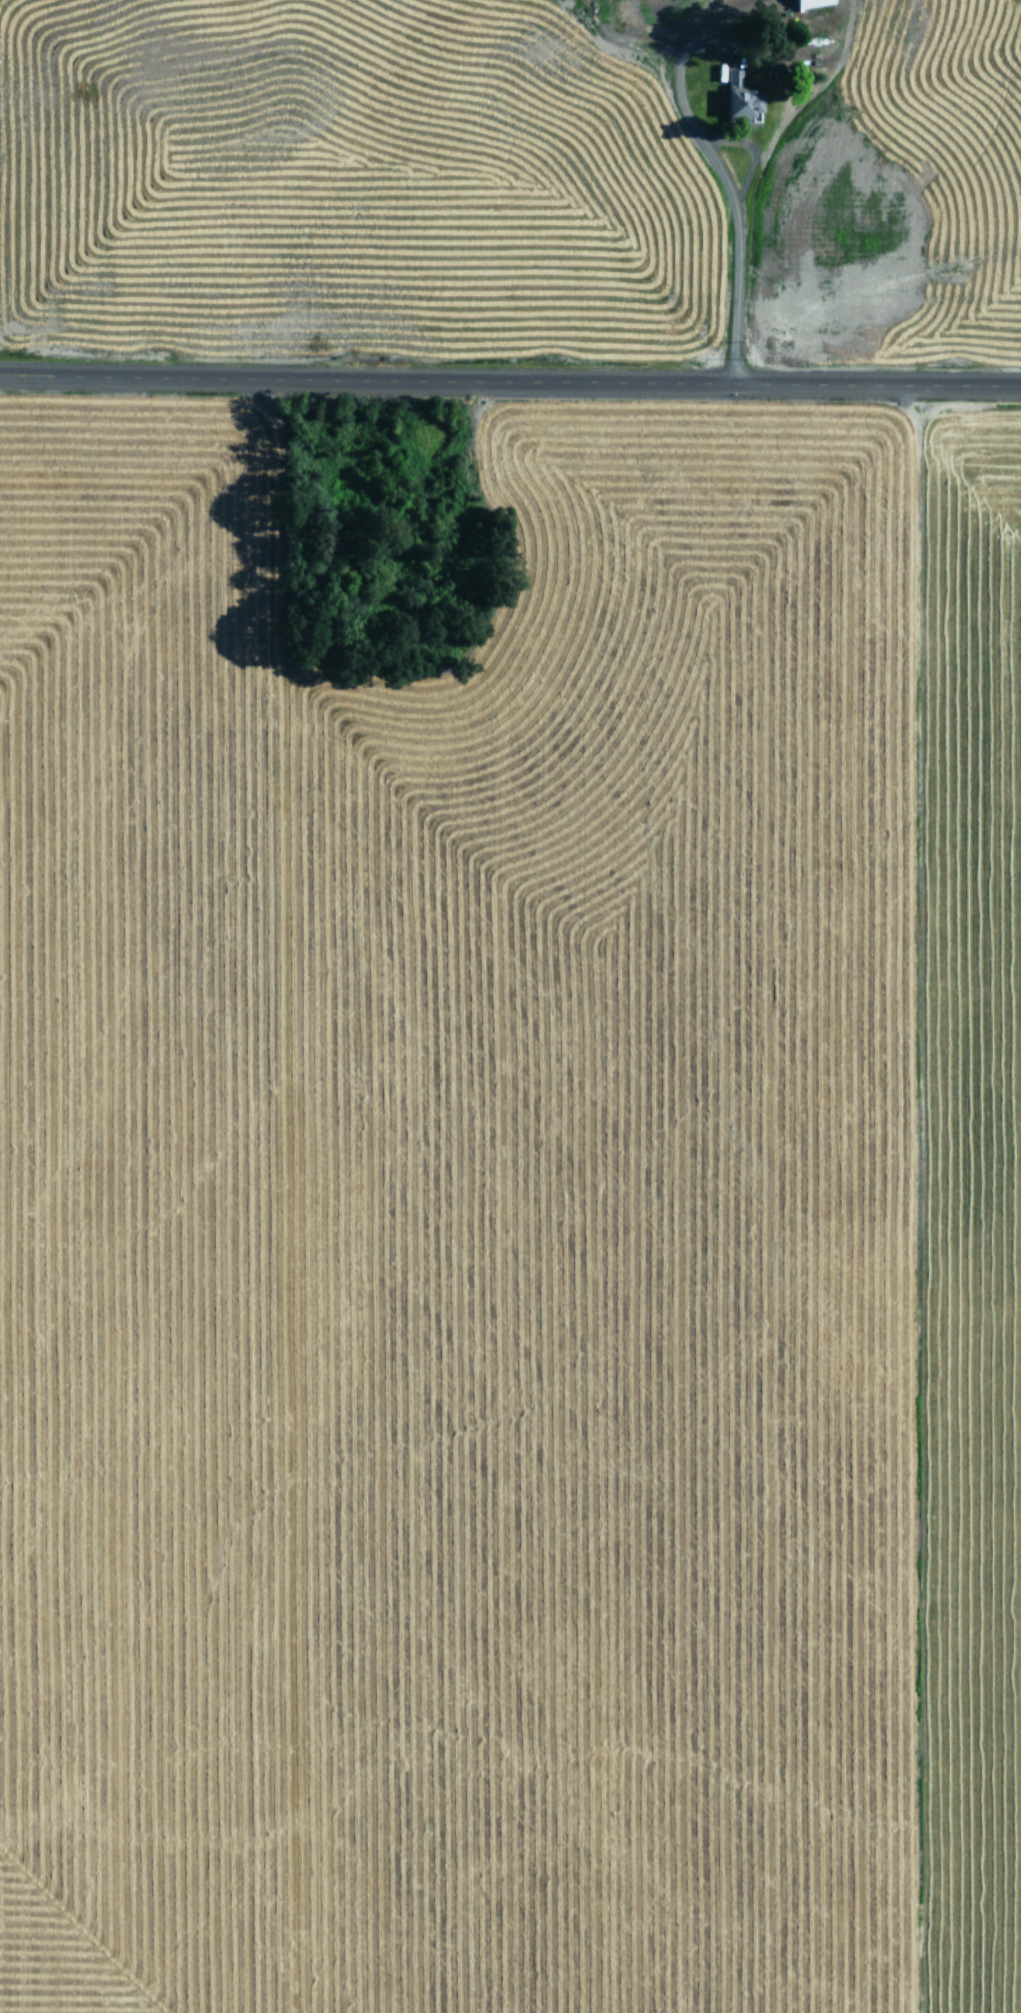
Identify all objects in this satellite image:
building: (814, 3)
building: (743, 98)
crop: (512, 178)
road: (510, 382)
crop: (509, 1204)

